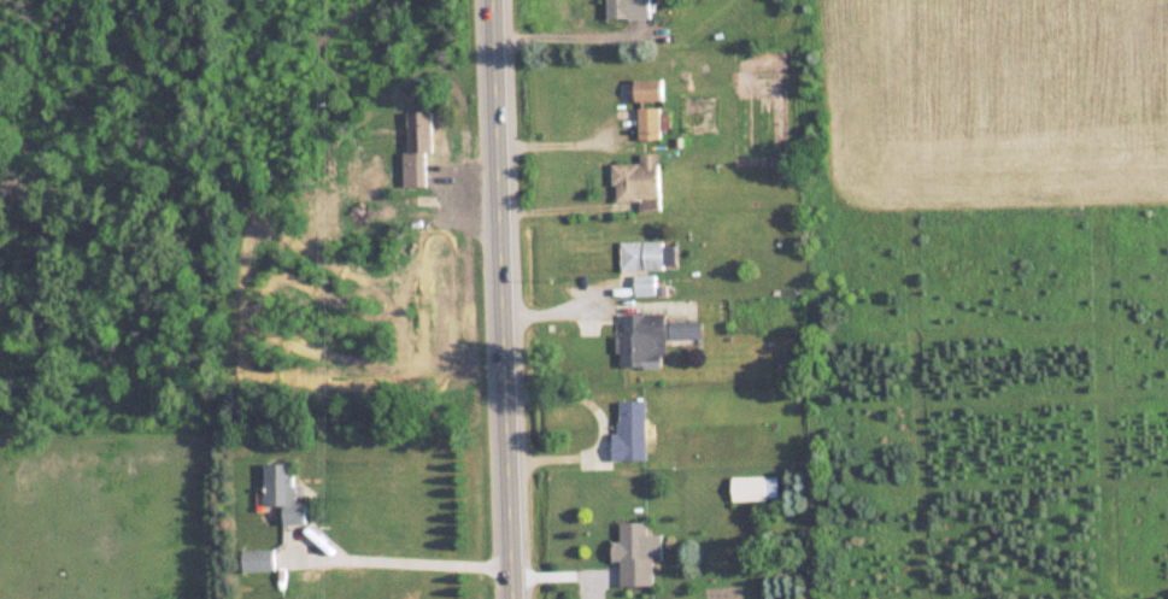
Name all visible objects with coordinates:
building: (629, 8)
building: (648, 89)
crop: (987, 104)
building: (648, 123)
road: (569, 141)
building: (418, 148)
building: (638, 180)
road: (575, 205)
building: (641, 254)
road: (509, 299)
building: (653, 336)
building: (630, 429)
building: (753, 487)
building: (283, 489)
building: (633, 552)
road: (410, 557)
building: (259, 558)

